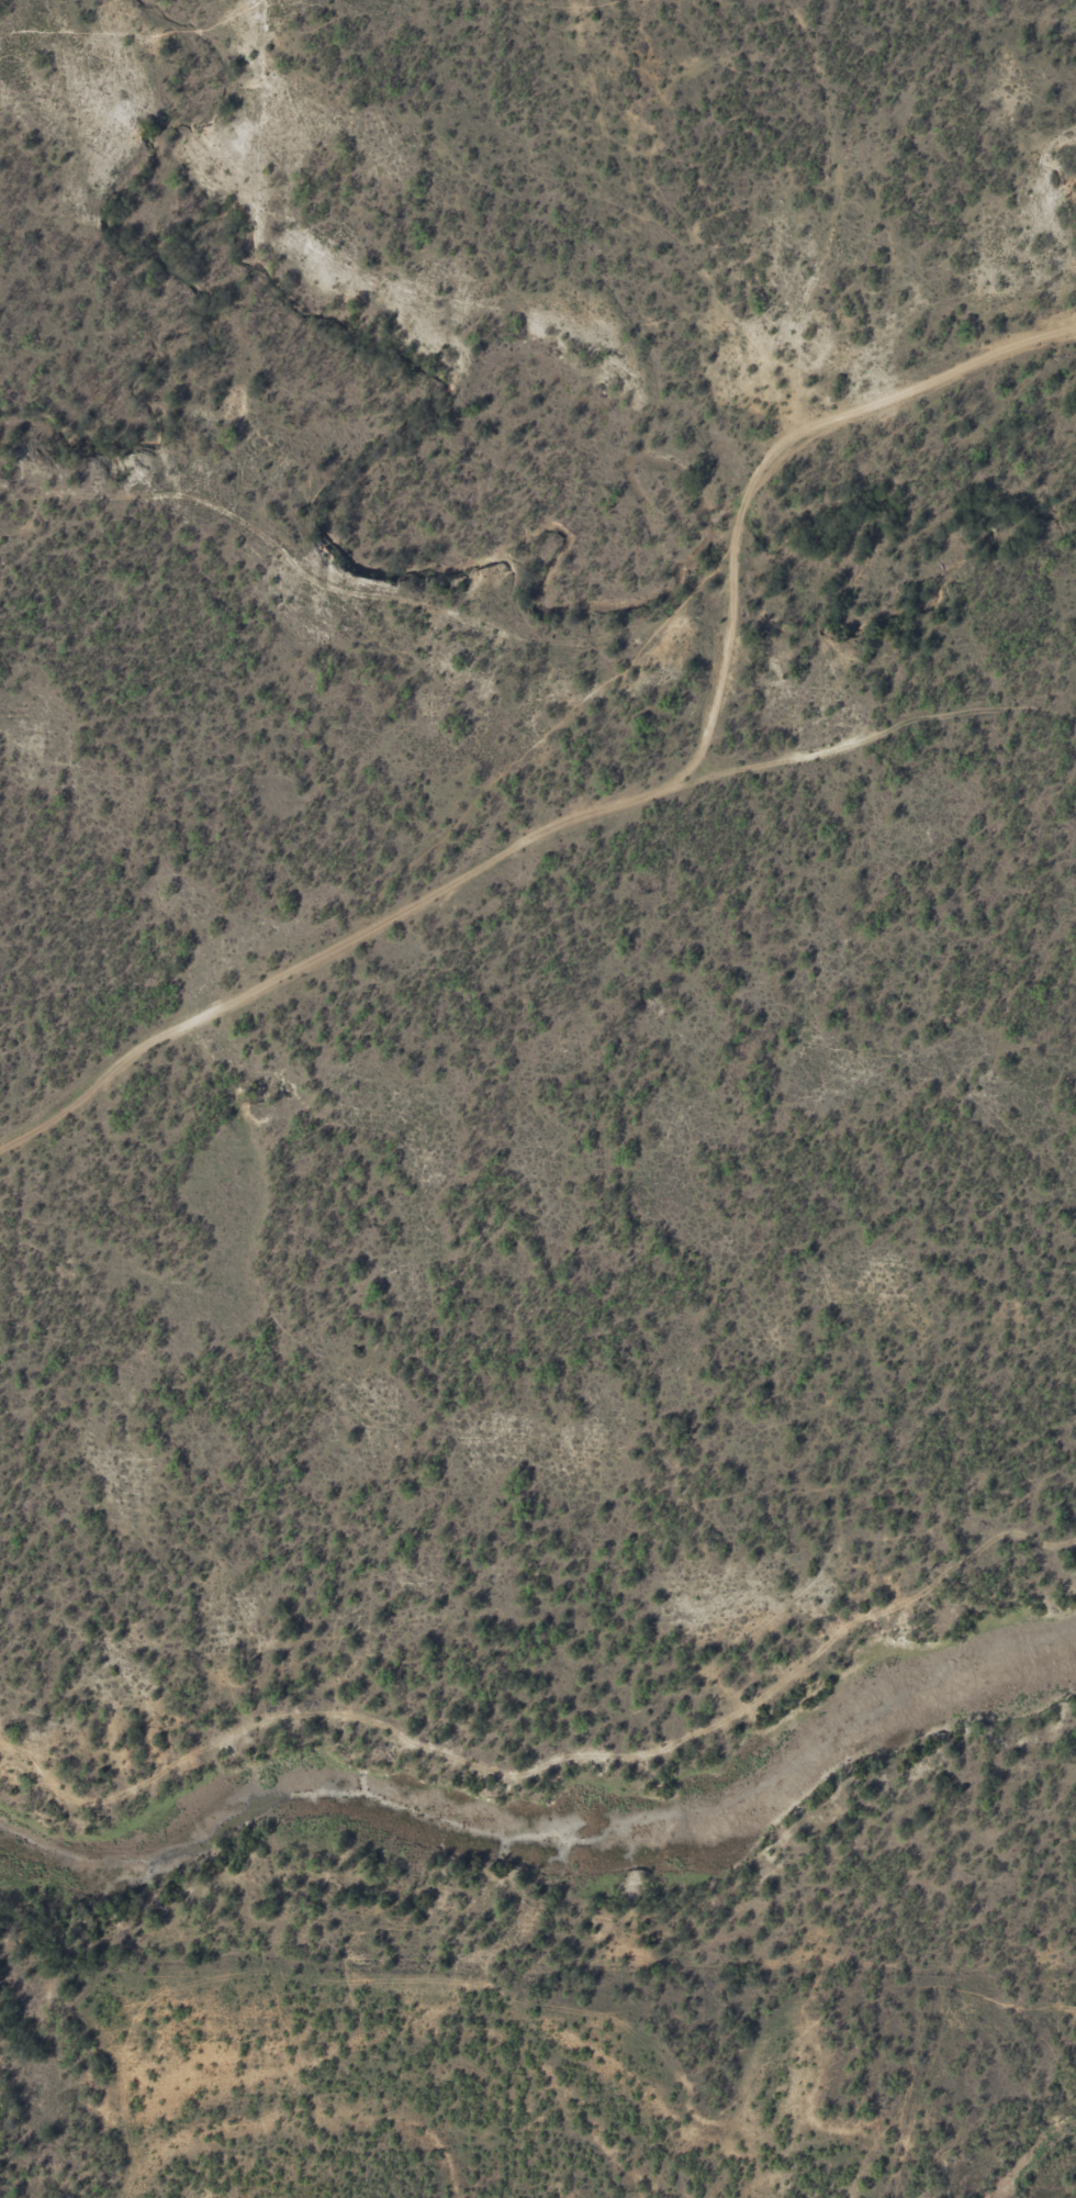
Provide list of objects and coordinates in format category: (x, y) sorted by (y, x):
road: (767, 465)
road: (874, 736)
road: (329, 951)

